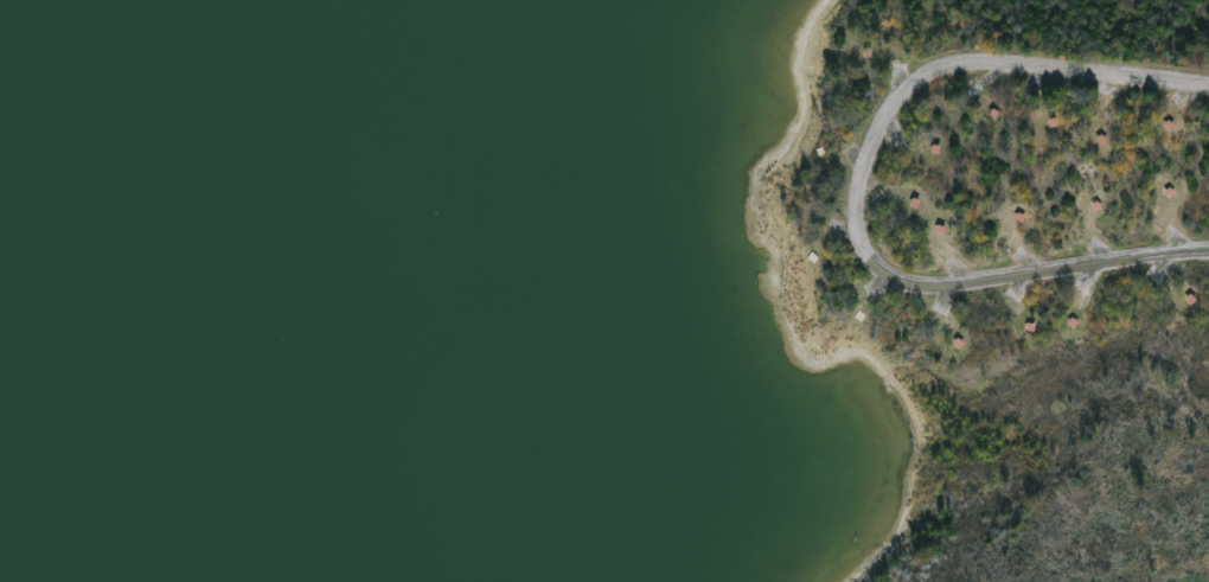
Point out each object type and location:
road: (857, 188)
park: (1021, 269)

